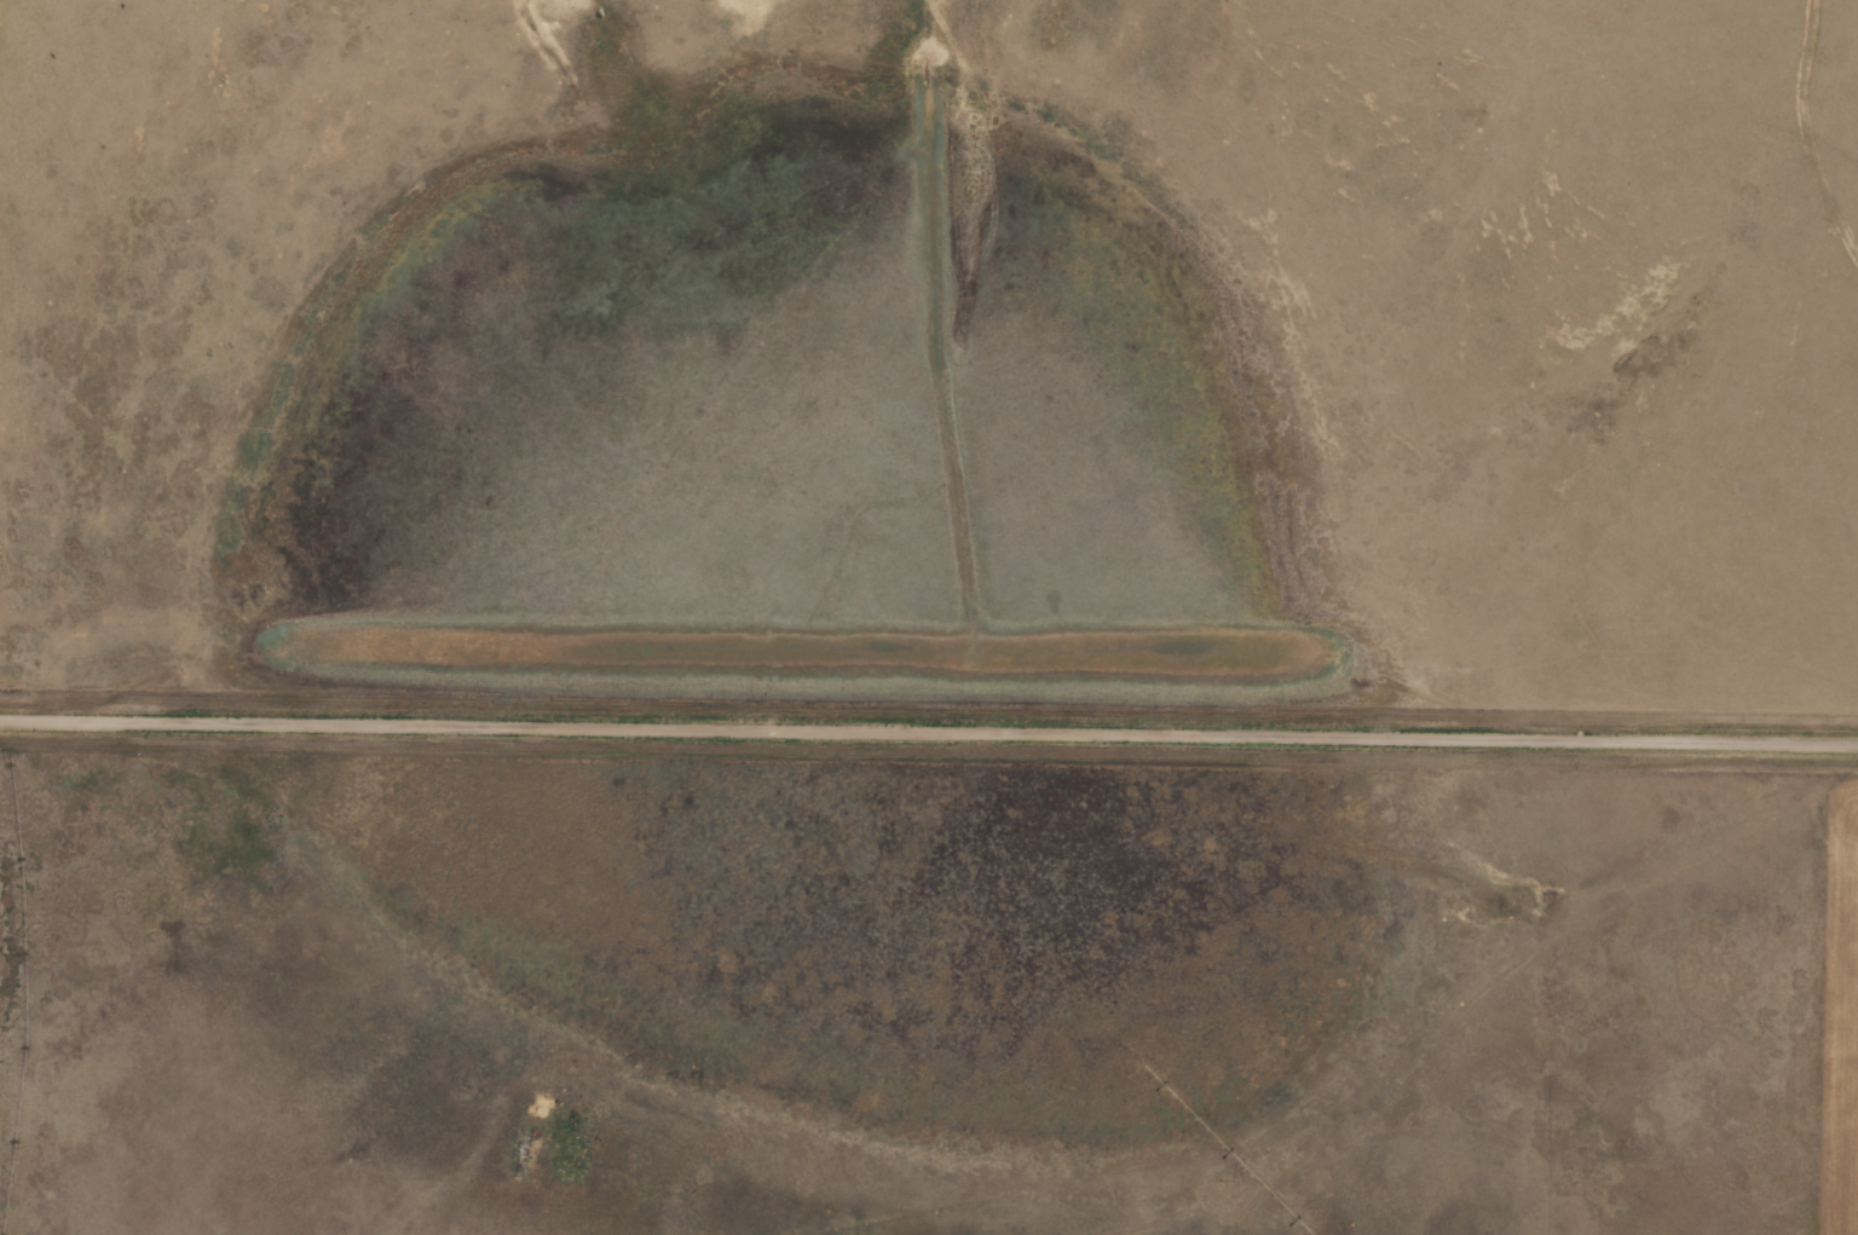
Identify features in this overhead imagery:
road: (929, 731)

